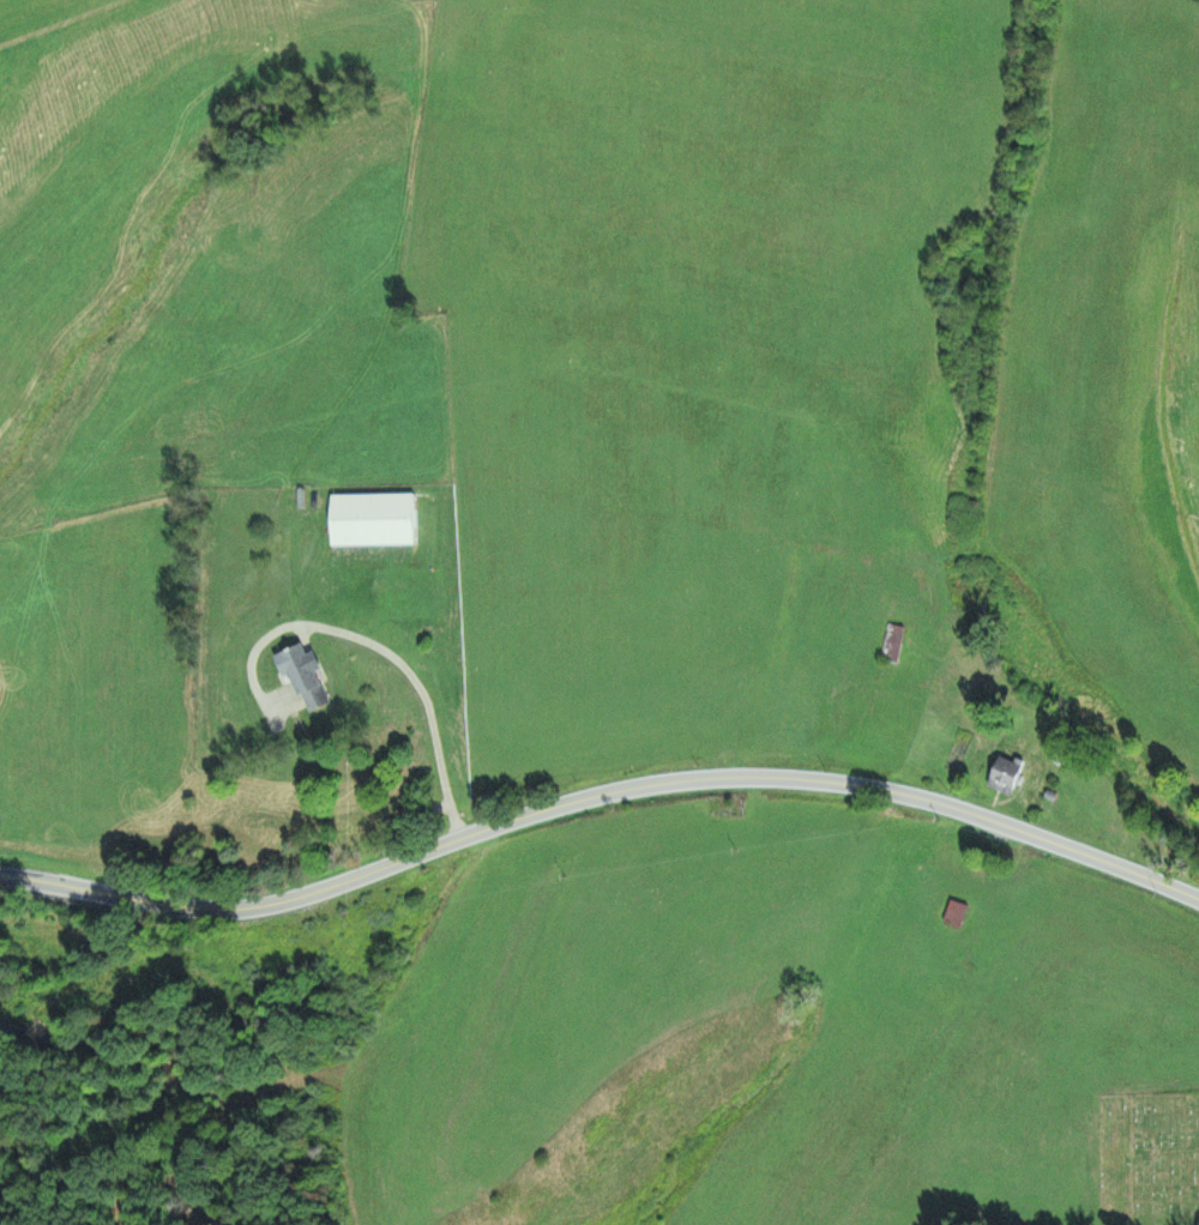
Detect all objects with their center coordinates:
road: (1011, 42)
building: (373, 519)
building: (892, 644)
building: (305, 677)
building: (1005, 776)
road: (599, 807)
building: (956, 913)

